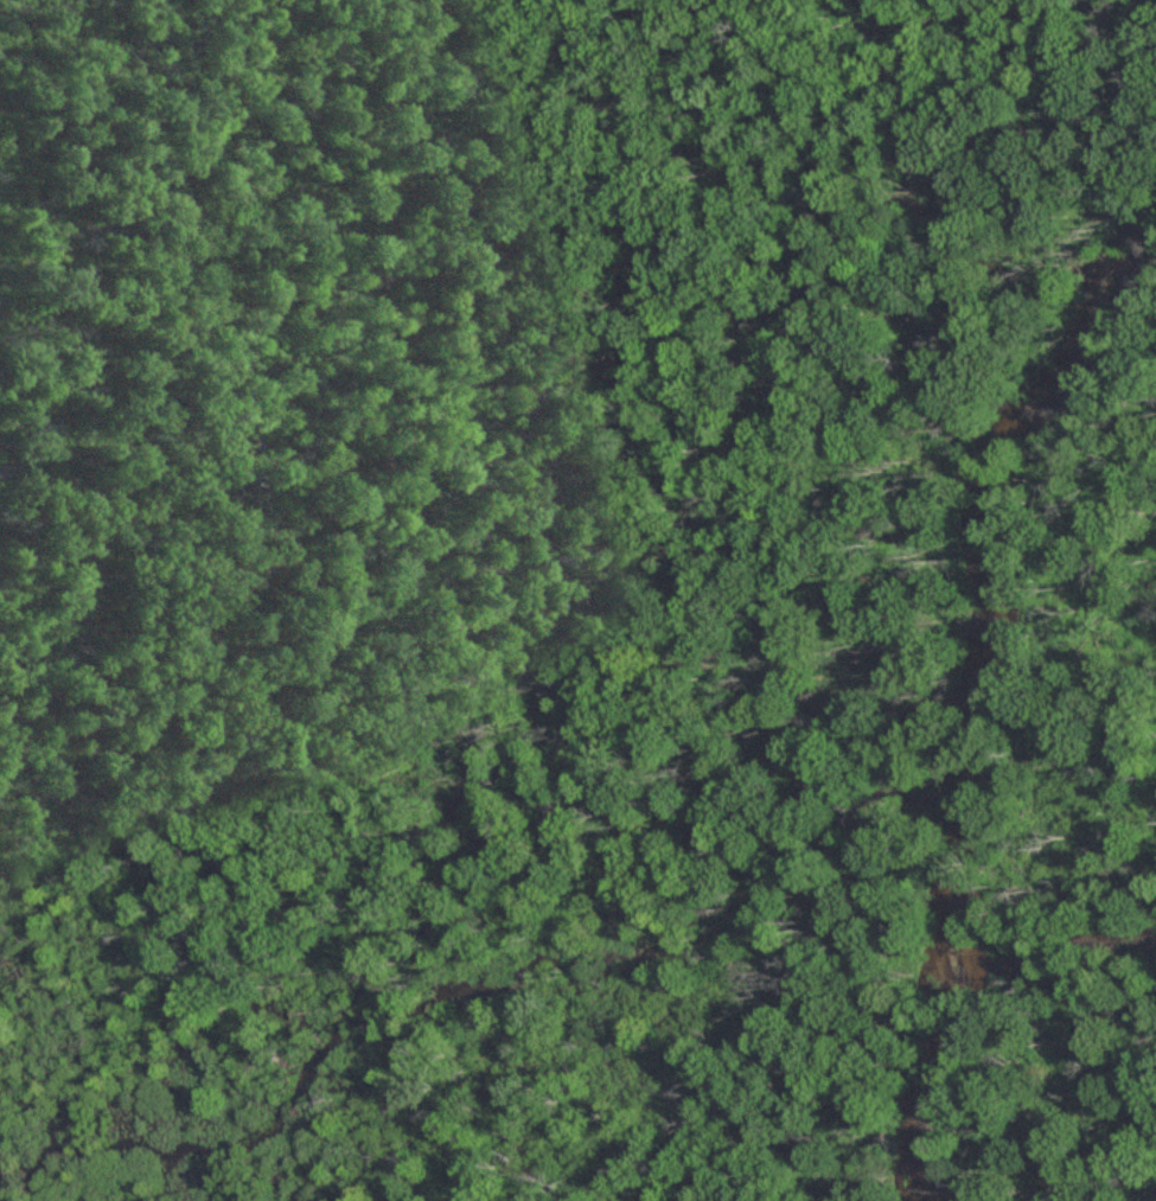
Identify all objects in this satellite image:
river: (979, 685)

